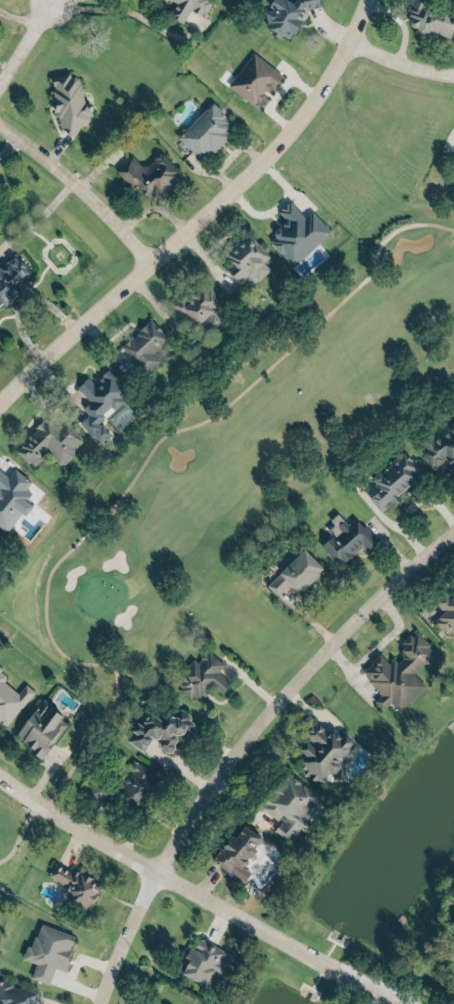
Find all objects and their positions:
building: (185, 7)
road: (97, 10)
building: (285, 16)
building: (428, 19)
road: (22, 41)
road: (401, 54)
building: (252, 78)
road: (275, 91)
building: (68, 103)
building: (206, 131)
road: (8, 140)
building: (147, 174)
road: (82, 180)
road: (274, 203)
road: (202, 214)
building: (295, 228)
building: (243, 260)
building: (9, 278)
building: (197, 306)
building: (142, 346)
building: (97, 403)
road: (176, 434)
building: (46, 441)
building: (439, 446)
building: (392, 479)
building: (12, 496)
building: (344, 537)
building: (295, 573)
building: (444, 612)
building: (397, 672)
building: (1, 674)
building: (201, 676)
building: (10, 702)
building: (39, 727)
building: (158, 729)
road: (246, 741)
building: (321, 752)
road: (81, 753)
building: (135, 781)
building: (96, 792)
building: (287, 806)
building: (235, 850)
building: (73, 883)
road: (199, 892)
building: (42, 954)
building: (201, 961)
building: (453, 991)
building: (17, 994)

